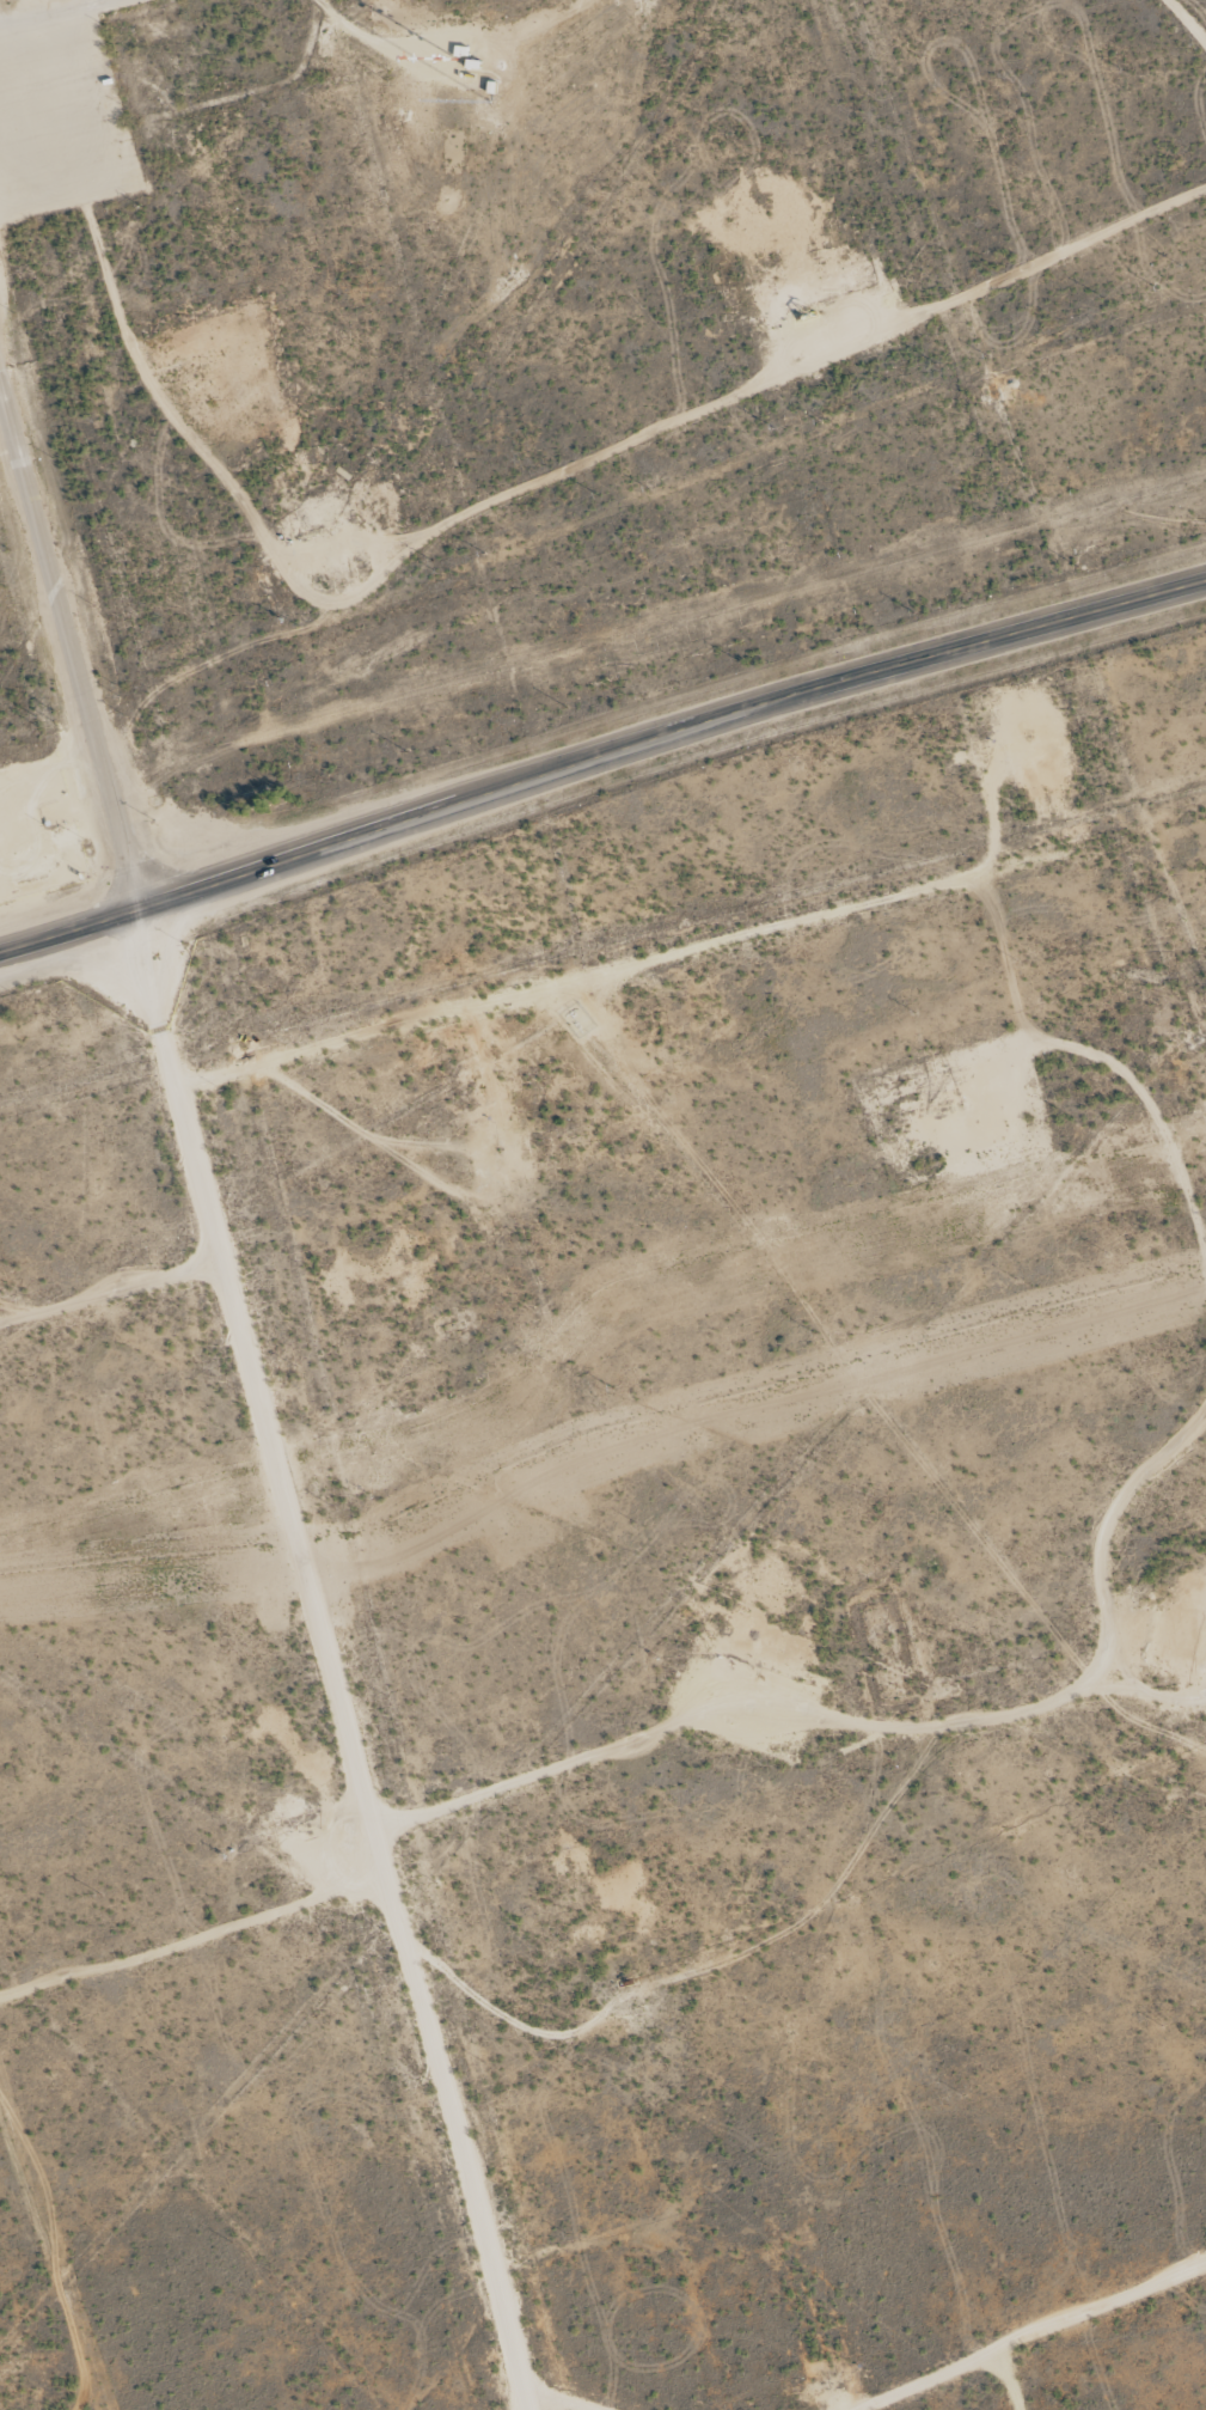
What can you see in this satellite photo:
road: (72, 655)
road: (599, 753)
road: (342, 1659)

